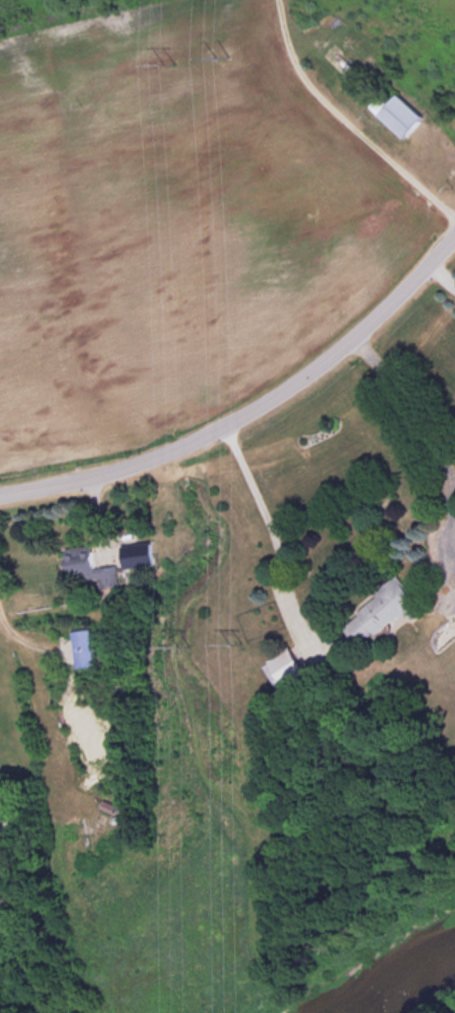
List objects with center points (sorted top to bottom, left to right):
power tower: (168, 61)
power tower: (221, 64)
building: (402, 112)
road: (342, 125)
road: (252, 418)
road: (433, 432)
road: (278, 543)
building: (143, 554)
building: (90, 566)
building: (386, 610)
power tower: (234, 643)
power tower: (183, 645)
building: (85, 647)
road: (3, 813)
building: (1, 839)
river: (404, 984)

